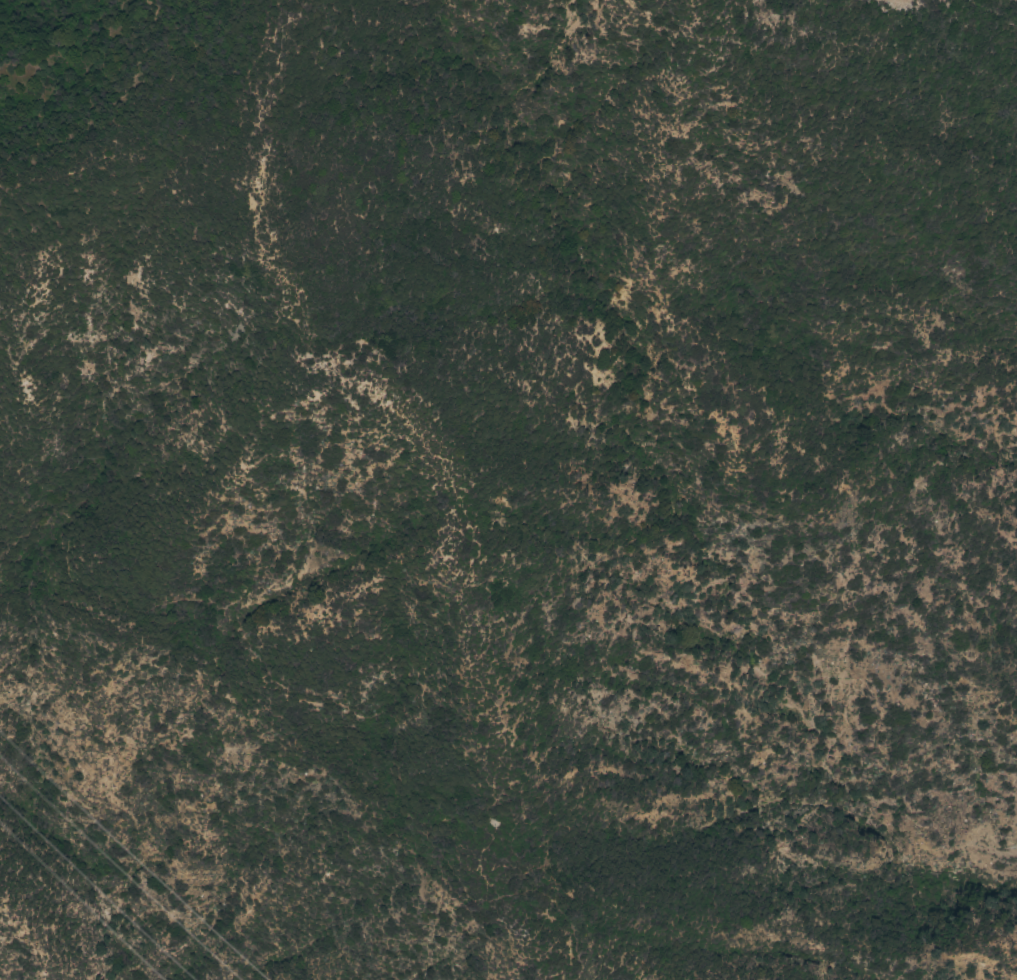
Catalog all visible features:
road: (410, 426)
road: (257, 641)
building: (493, 822)
storage tank: (493, 822)
road: (556, 908)
road: (607, 970)

